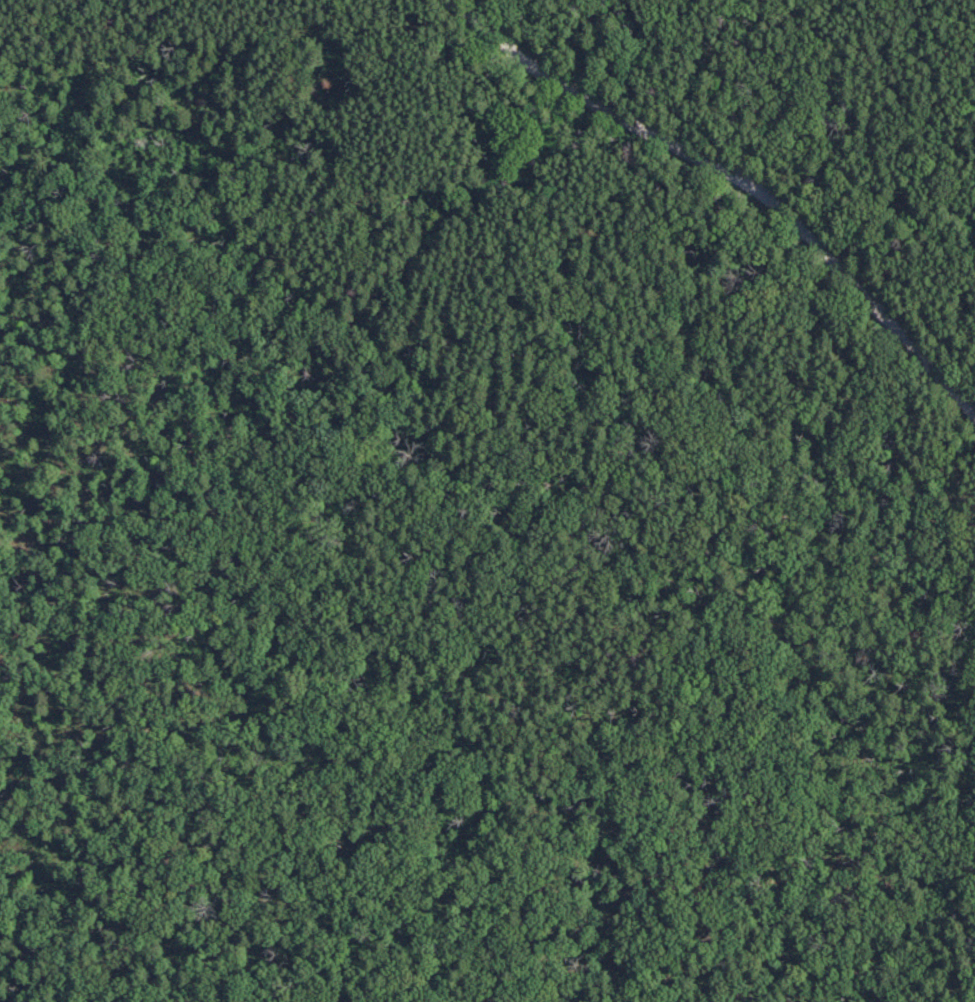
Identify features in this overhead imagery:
road: (734, 173)

